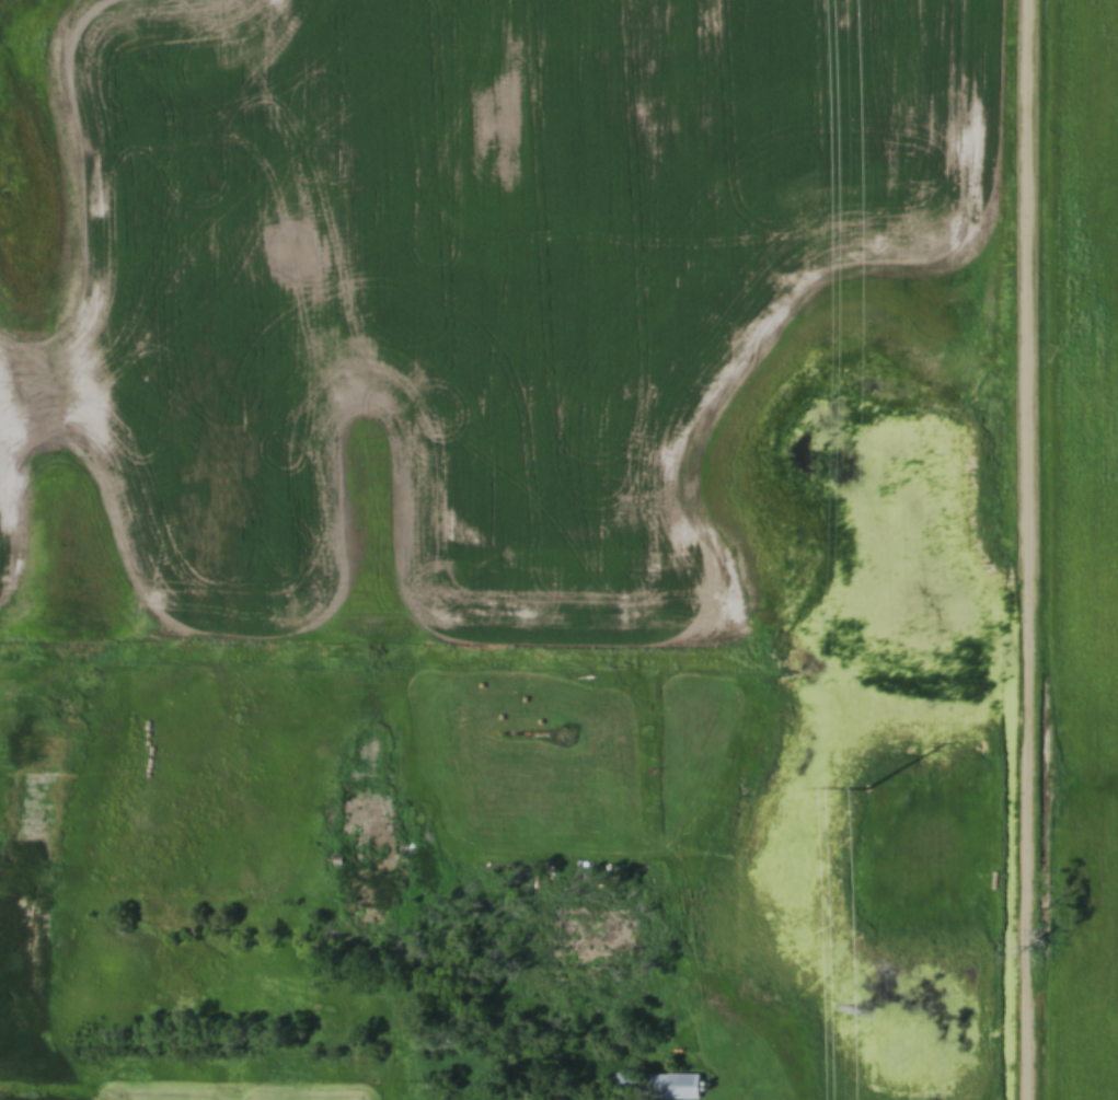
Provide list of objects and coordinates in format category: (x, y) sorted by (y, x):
road: (1027, 549)
power tower: (881, 783)
building: (658, 1085)

